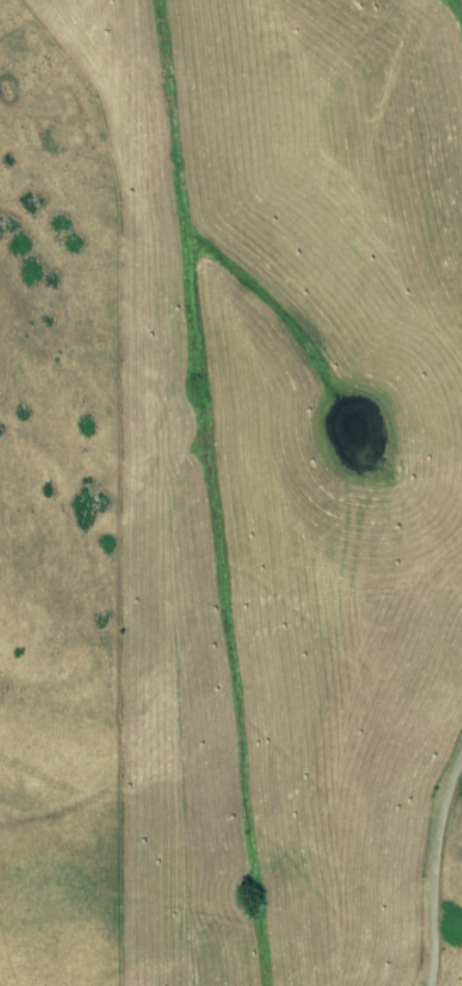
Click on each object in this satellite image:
crop: (231, 493)

